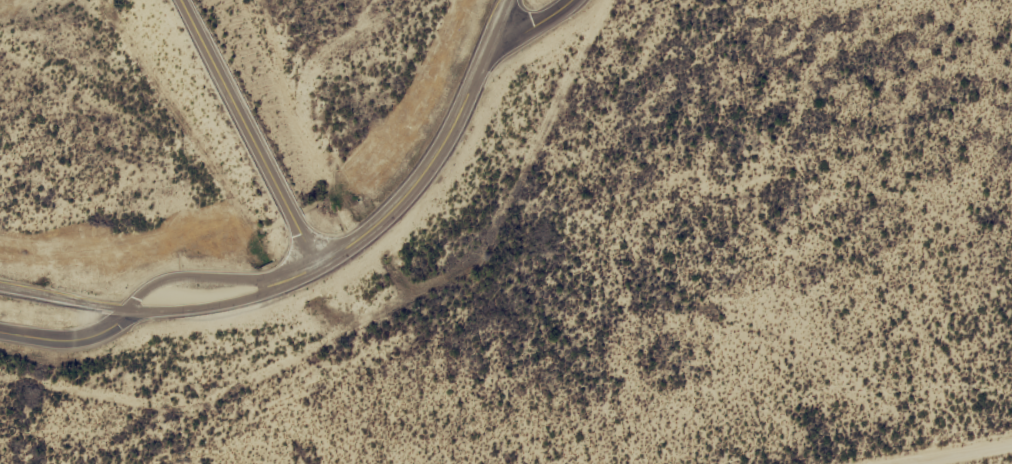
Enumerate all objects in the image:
road: (505, 16)
road: (536, 20)
road: (249, 133)
road: (420, 179)
road: (203, 276)
road: (65, 296)
road: (212, 306)
road: (68, 338)

